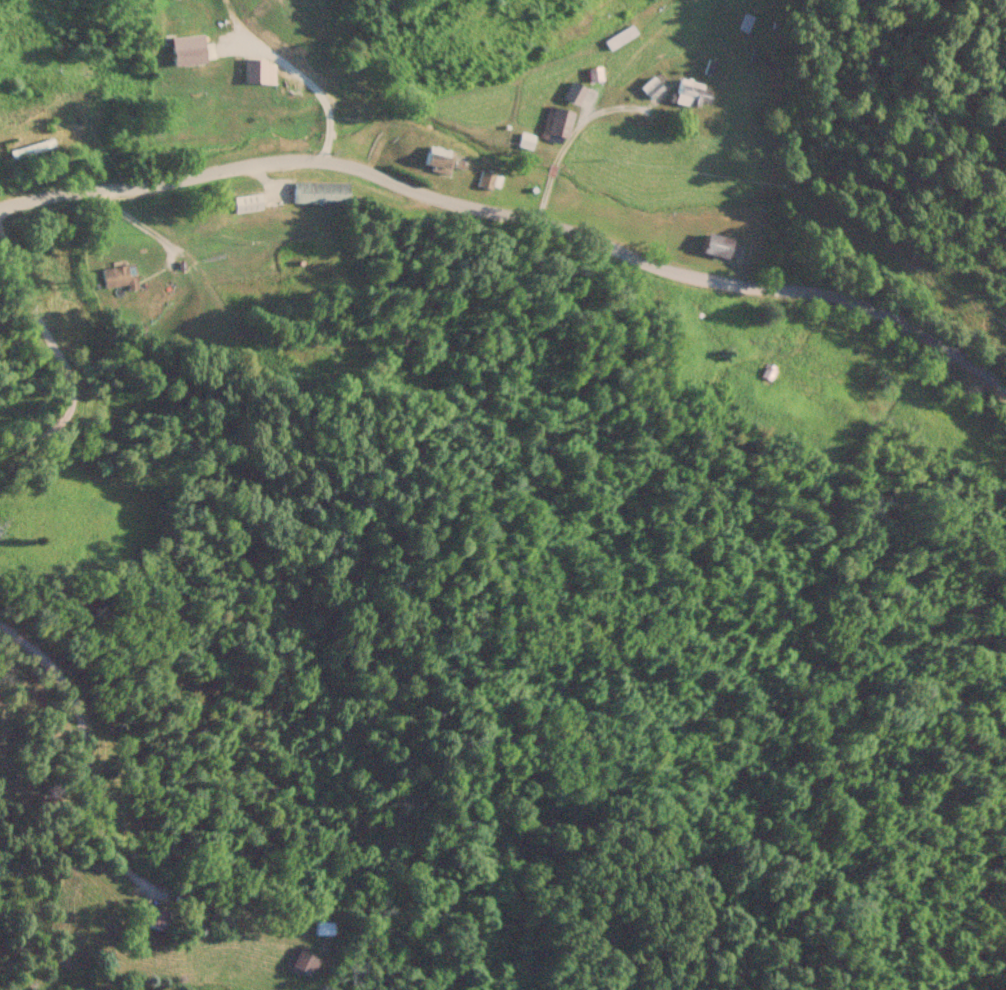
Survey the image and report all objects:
road: (310, 85)
road: (573, 132)
road: (515, 215)
road: (57, 353)
road: (82, 766)

